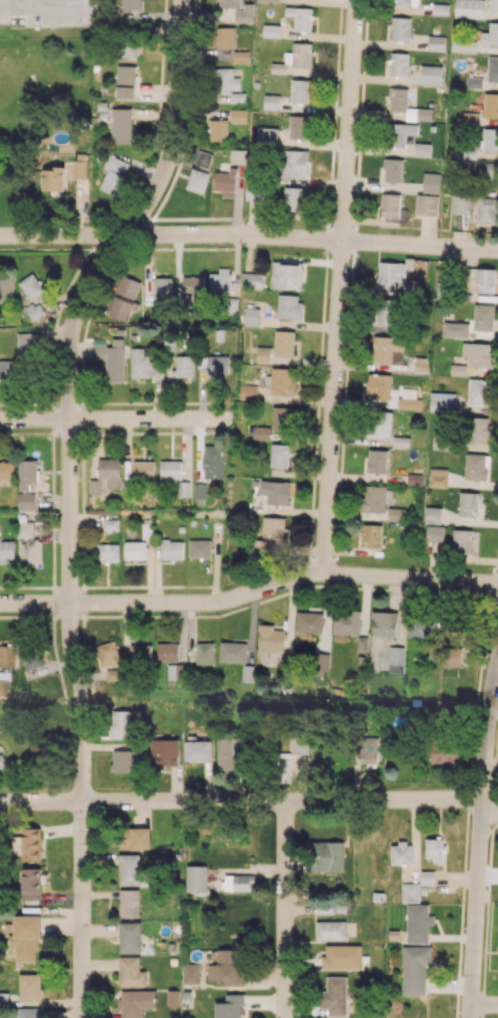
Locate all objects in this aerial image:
road: (12, 0)
building: (269, 0)
road: (55, 1)
building: (406, 2)
building: (229, 3)
building: (131, 4)
building: (493, 5)
building: (470, 8)
building: (244, 13)
building: (300, 17)
building: (400, 28)
building: (271, 30)
building: (490, 35)
building: (225, 37)
building: (436, 42)
building: (463, 44)
building: (126, 48)
building: (241, 56)
building: (294, 58)
building: (399, 63)
building: (492, 69)
building: (431, 74)
building: (225, 80)
building: (125, 81)
building: (300, 91)
building: (398, 97)
park: (33, 99)
building: (271, 102)
building: (490, 105)
building: (238, 115)
building: (469, 117)
building: (120, 125)
building: (298, 126)
building: (217, 129)
building: (400, 133)
building: (267, 134)
building: (490, 139)
building: (422, 149)
building: (238, 156)
building: (203, 158)
building: (294, 163)
building: (79, 169)
building: (392, 169)
building: (113, 173)
building: (488, 174)
building: (52, 178)
building: (197, 180)
building: (225, 182)
building: (431, 182)
building: (292, 198)
building: (426, 204)
building: (461, 204)
building: (390, 205)
building: (487, 210)
road: (249, 234)
building: (394, 273)
building: (286, 275)
building: (251, 280)
building: (485, 280)
building: (220, 282)
building: (31, 286)
road: (338, 286)
building: (192, 287)
building: (6, 289)
building: (161, 289)
building: (124, 297)
building: (289, 306)
building: (36, 310)
building: (386, 315)
building: (251, 316)
building: (483, 317)
building: (455, 329)
building: (284, 343)
building: (27, 345)
building: (385, 347)
building: (263, 354)
building: (477, 354)
building: (115, 363)
building: (143, 364)
building: (215, 364)
building: (184, 366)
building: (458, 369)
building: (6, 370)
building: (282, 381)
building: (378, 386)
building: (248, 391)
building: (479, 392)
building: (408, 400)
building: (442, 402)
building: (282, 417)
road: (116, 418)
building: (378, 424)
building: (478, 430)
building: (261, 432)
building: (443, 440)
building: (400, 441)
building: (278, 455)
building: (213, 461)
building: (377, 461)
building: (476, 466)
building: (170, 469)
building: (6, 470)
building: (143, 470)
building: (110, 472)
building: (27, 473)
building: (438, 477)
building: (415, 479)
building: (96, 486)
building: (275, 492)
road: (68, 495)
building: (373, 499)
building: (26, 501)
building: (468, 504)
building: (396, 514)
building: (433, 515)
building: (109, 524)
building: (25, 529)
building: (273, 532)
building: (434, 533)
building: (371, 535)
building: (464, 541)
building: (199, 548)
building: (172, 549)
building: (6, 550)
building: (29, 550)
building: (134, 550)
building: (107, 552)
road: (249, 592)
building: (309, 621)
building: (346, 622)
building: (384, 623)
building: (422, 627)
building: (271, 638)
building: (361, 643)
building: (167, 651)
building: (139, 652)
building: (233, 652)
building: (204, 653)
building: (7, 656)
building: (452, 656)
building: (34, 658)
building: (109, 659)
building: (396, 659)
building: (320, 660)
building: (444, 709)
building: (120, 724)
building: (299, 744)
building: (368, 749)
building: (197, 750)
building: (444, 750)
building: (164, 752)
building: (227, 755)
building: (0, 758)
building: (122, 760)
building: (282, 767)
road: (251, 800)
road: (479, 831)
building: (134, 838)
building: (30, 844)
building: (434, 849)
building: (401, 853)
building: (327, 856)
building: (129, 869)
building: (196, 878)
building: (427, 878)
building: (238, 882)
building: (29, 883)
building: (410, 892)
building: (128, 903)
building: (321, 904)
road: (284, 909)
building: (418, 923)
building: (330, 930)
building: (25, 937)
building: (130, 937)
building: (342, 956)
building: (226, 967)
building: (415, 968)
building: (131, 971)
building: (191, 973)
building: (29, 986)
building: (334, 995)
building: (136, 1002)
road: (484, 1004)
building: (229, 1006)
building: (28, 1012)

